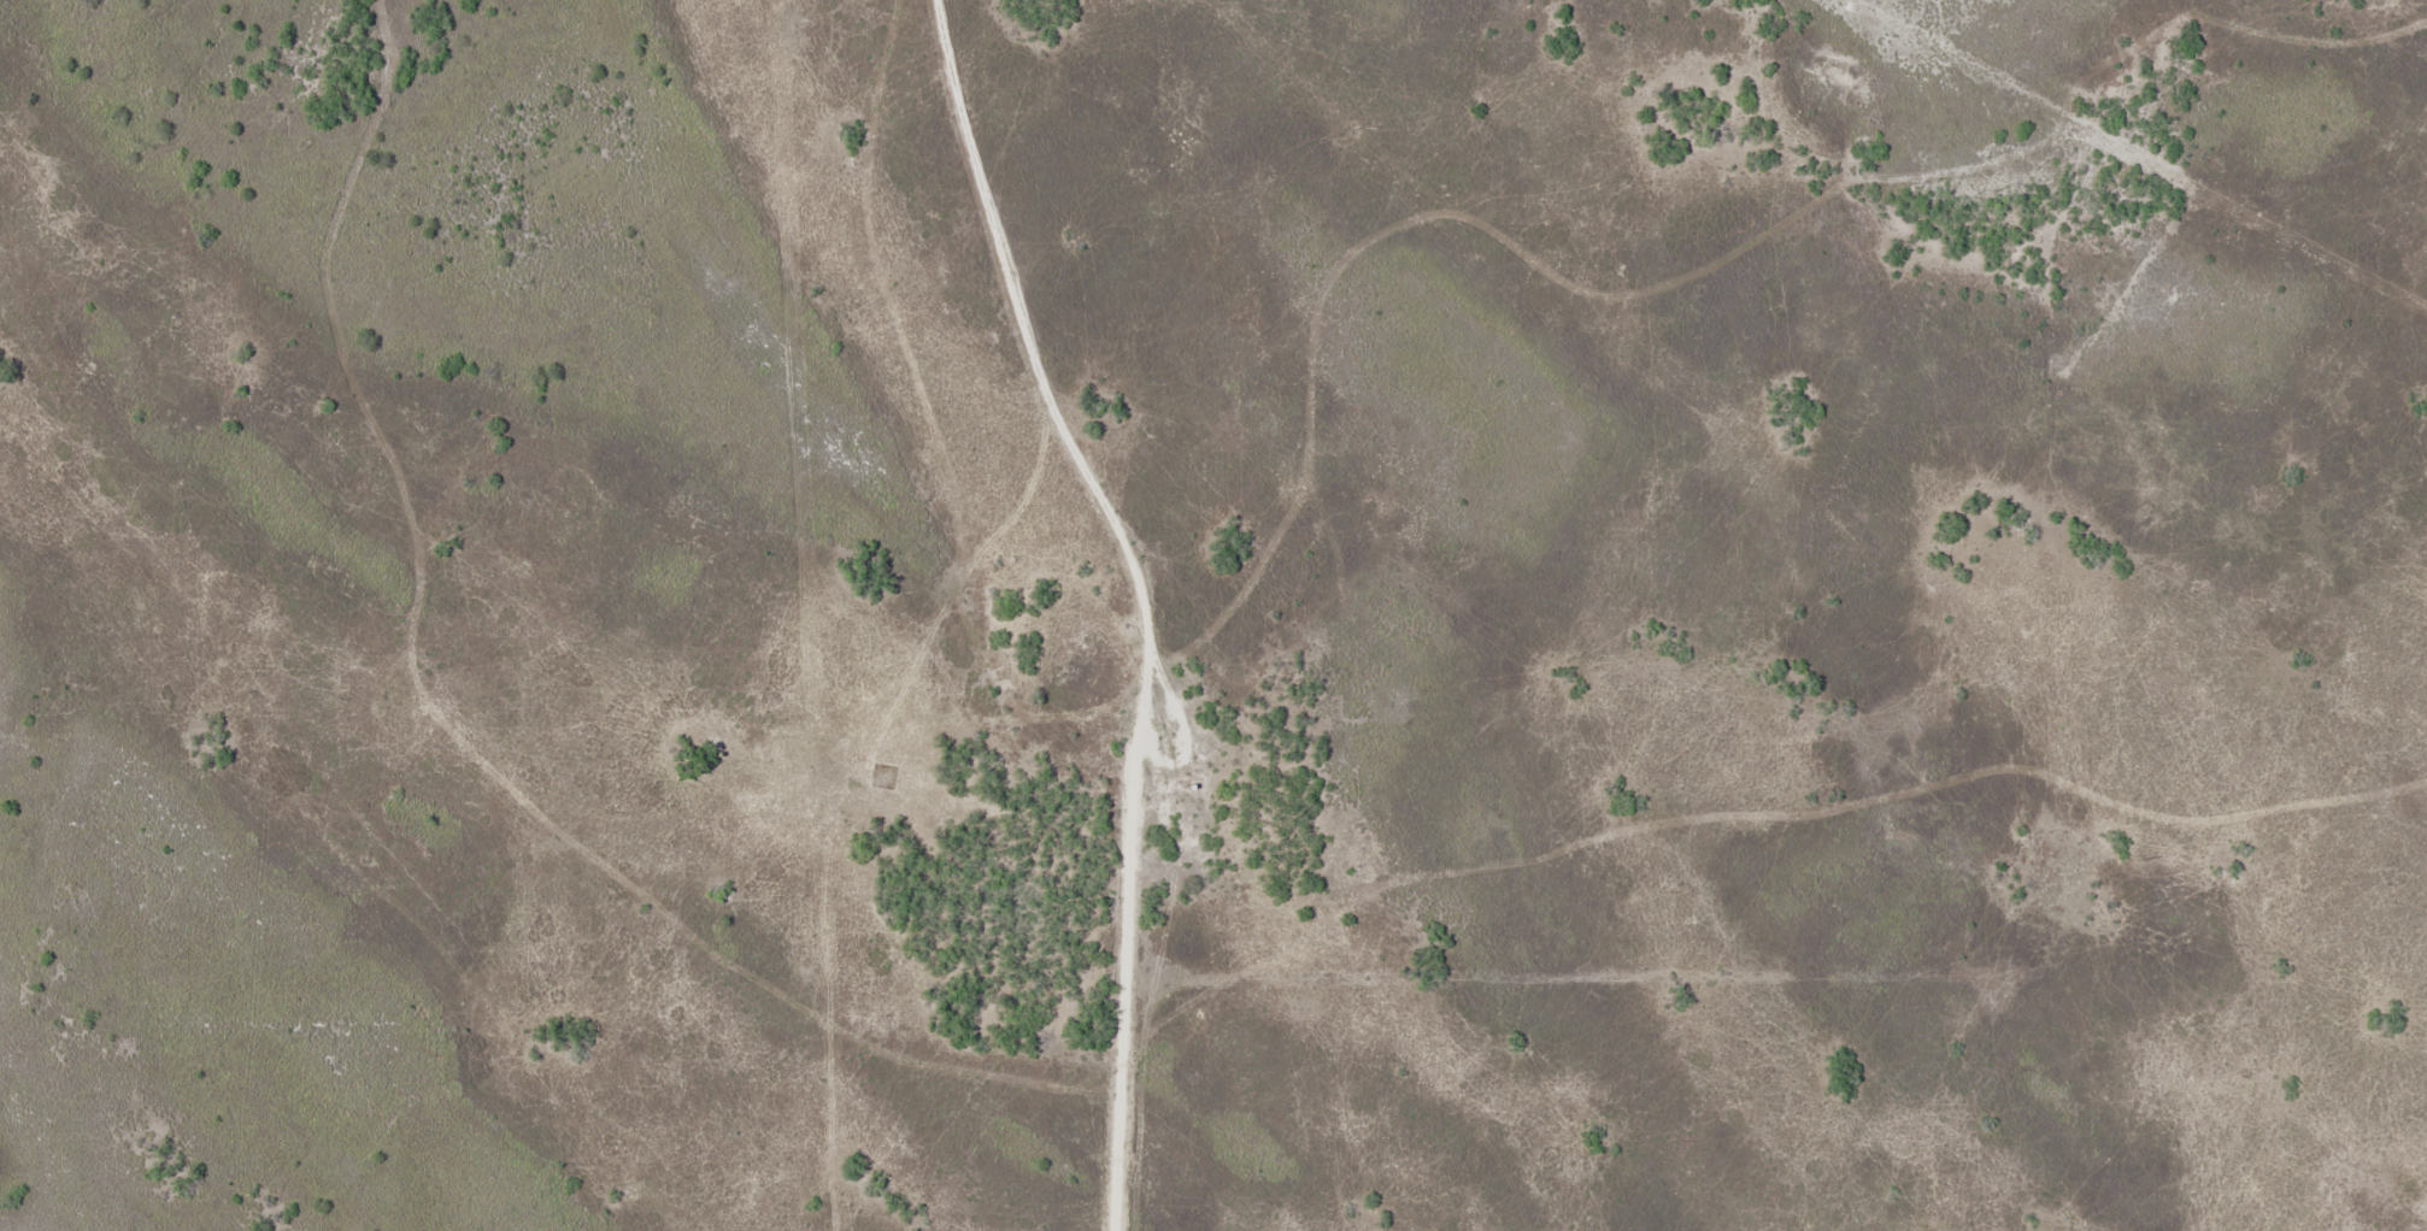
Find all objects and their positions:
road: (1164, 912)

